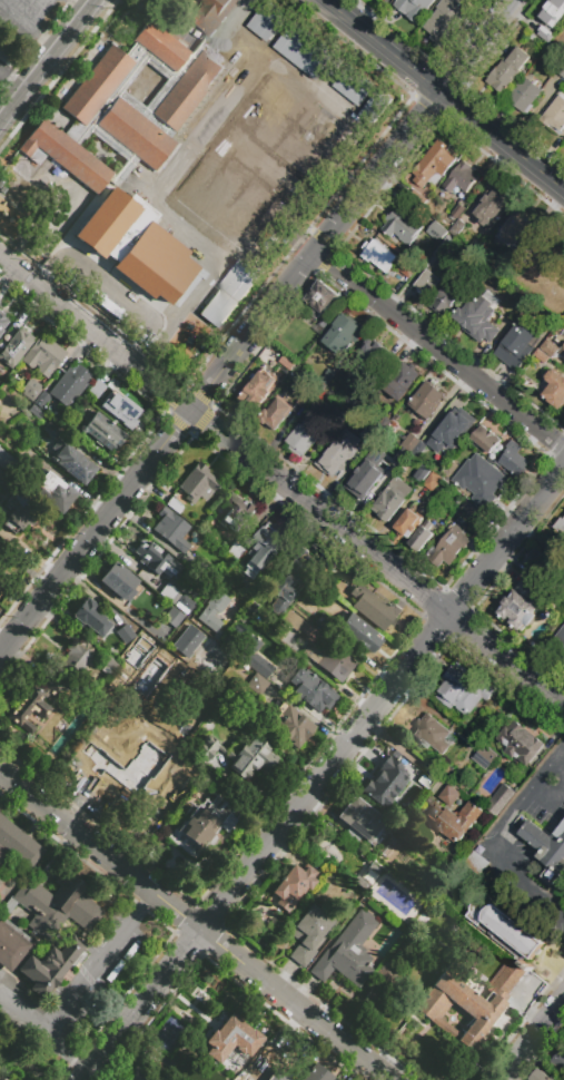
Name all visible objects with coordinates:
building: (386, 0)
building: (458, 0)
road: (83, 4)
building: (413, 8)
building: (553, 12)
building: (211, 14)
parking lot: (30, 18)
building: (444, 20)
building: (267, 22)
road: (29, 28)
building: (545, 36)
building: (303, 50)
building: (7, 59)
road: (48, 61)
building: (507, 70)
building: (561, 70)
road: (11, 85)
building: (354, 87)
road: (444, 92)
building: (524, 96)
building: (237, 98)
building: (372, 105)
building: (123, 108)
building: (554, 114)
building: (321, 132)
building: (433, 164)
building: (461, 178)
building: (418, 199)
building: (492, 207)
building: (457, 212)
building: (110, 225)
building: (403, 226)
building: (516, 227)
building: (457, 228)
building: (437, 232)
building: (378, 255)
building: (443, 255)
building: (503, 262)
building: (405, 267)
road: (96, 277)
building: (427, 283)
building: (228, 293)
building: (321, 300)
building: (445, 301)
building: (523, 303)
building: (478, 316)
building: (3, 321)
road: (256, 325)
building: (327, 325)
building: (342, 334)
road: (92, 336)
building: (563, 340)
building: (16, 345)
building: (515, 346)
building: (551, 351)
road: (439, 352)
building: (562, 353)
building: (367, 354)
building: (43, 356)
building: (563, 361)
building: (287, 363)
building: (402, 381)
building: (69, 382)
building: (95, 387)
building: (30, 389)
building: (554, 390)
building: (258, 391)
building: (358, 399)
building: (41, 400)
building: (304, 400)
building: (373, 404)
building: (422, 406)
building: (121, 410)
building: (36, 412)
building: (276, 414)
building: (339, 420)
building: (69, 426)
building: (101, 431)
building: (451, 432)
building: (402, 435)
building: (304, 436)
building: (372, 436)
building: (485, 440)
building: (412, 444)
building: (514, 460)
building: (4, 461)
building: (393, 461)
building: (71, 462)
building: (335, 462)
building: (435, 465)
building: (423, 474)
building: (1, 475)
building: (478, 479)
building: (363, 480)
building: (197, 482)
building: (431, 482)
building: (52, 491)
building: (392, 500)
building: (174, 504)
building: (19, 509)
building: (471, 510)
building: (237, 514)
building: (407, 523)
building: (560, 526)
building: (171, 530)
building: (422, 538)
building: (449, 546)
building: (264, 547)
building: (236, 553)
building: (155, 558)
road: (375, 558)
building: (206, 569)
building: (545, 569)
building: (117, 579)
building: (326, 580)
building: (285, 587)
building: (168, 591)
building: (184, 603)
building: (373, 607)
building: (521, 607)
building: (248, 608)
building: (212, 611)
building: (89, 618)
building: (168, 622)
building: (295, 624)
building: (125, 634)
building: (358, 634)
building: (188, 640)
building: (560, 640)
building: (76, 660)
building: (330, 662)
building: (255, 664)
building: (111, 669)
building: (257, 688)
building: (311, 690)
building: (463, 690)
building: (33, 701)
building: (495, 714)
building: (290, 724)
building: (434, 735)
building: (518, 744)
building: (206, 747)
road: (562, 747)
road: (406, 755)
building: (249, 757)
building: (485, 757)
building: (125, 762)
road: (323, 775)
building: (384, 782)
building: (209, 784)
building: (449, 795)
building: (501, 799)
road: (513, 813)
building: (360, 819)
building: (454, 821)
building: (204, 824)
building: (547, 850)
building: (478, 866)
building: (365, 875)
building: (293, 885)
building: (39, 896)
road: (142, 904)
building: (8, 905)
road: (191, 926)
building: (505, 931)
building: (307, 933)
building: (347, 951)
building: (49, 965)
road: (87, 972)
building: (385, 973)
building: (206, 990)
building: (467, 1000)
road: (520, 1024)
road: (44, 1032)
building: (231, 1039)
road: (532, 1039)
road: (542, 1052)
building: (558, 1060)
road: (17, 1064)
building: (317, 1073)
building: (541, 1076)
building: (276, 1077)
building: (0, 1079)

